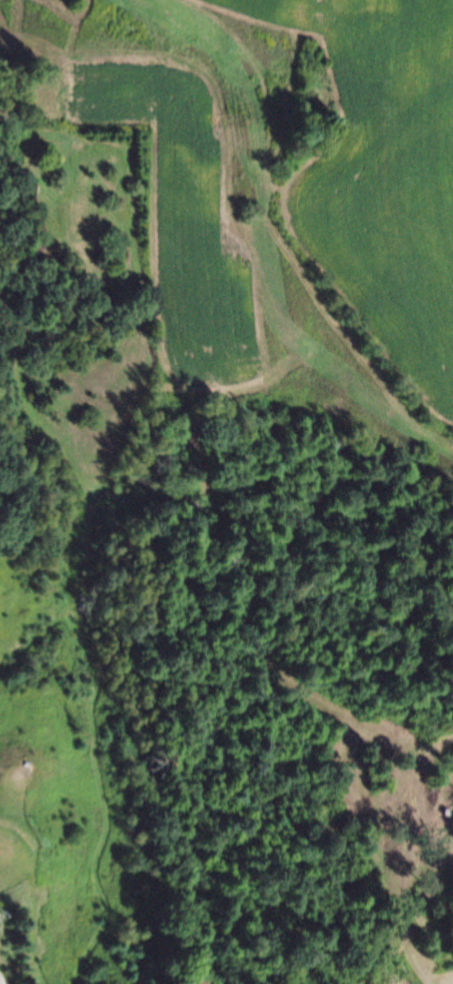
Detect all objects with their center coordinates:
building: (1, 920)

